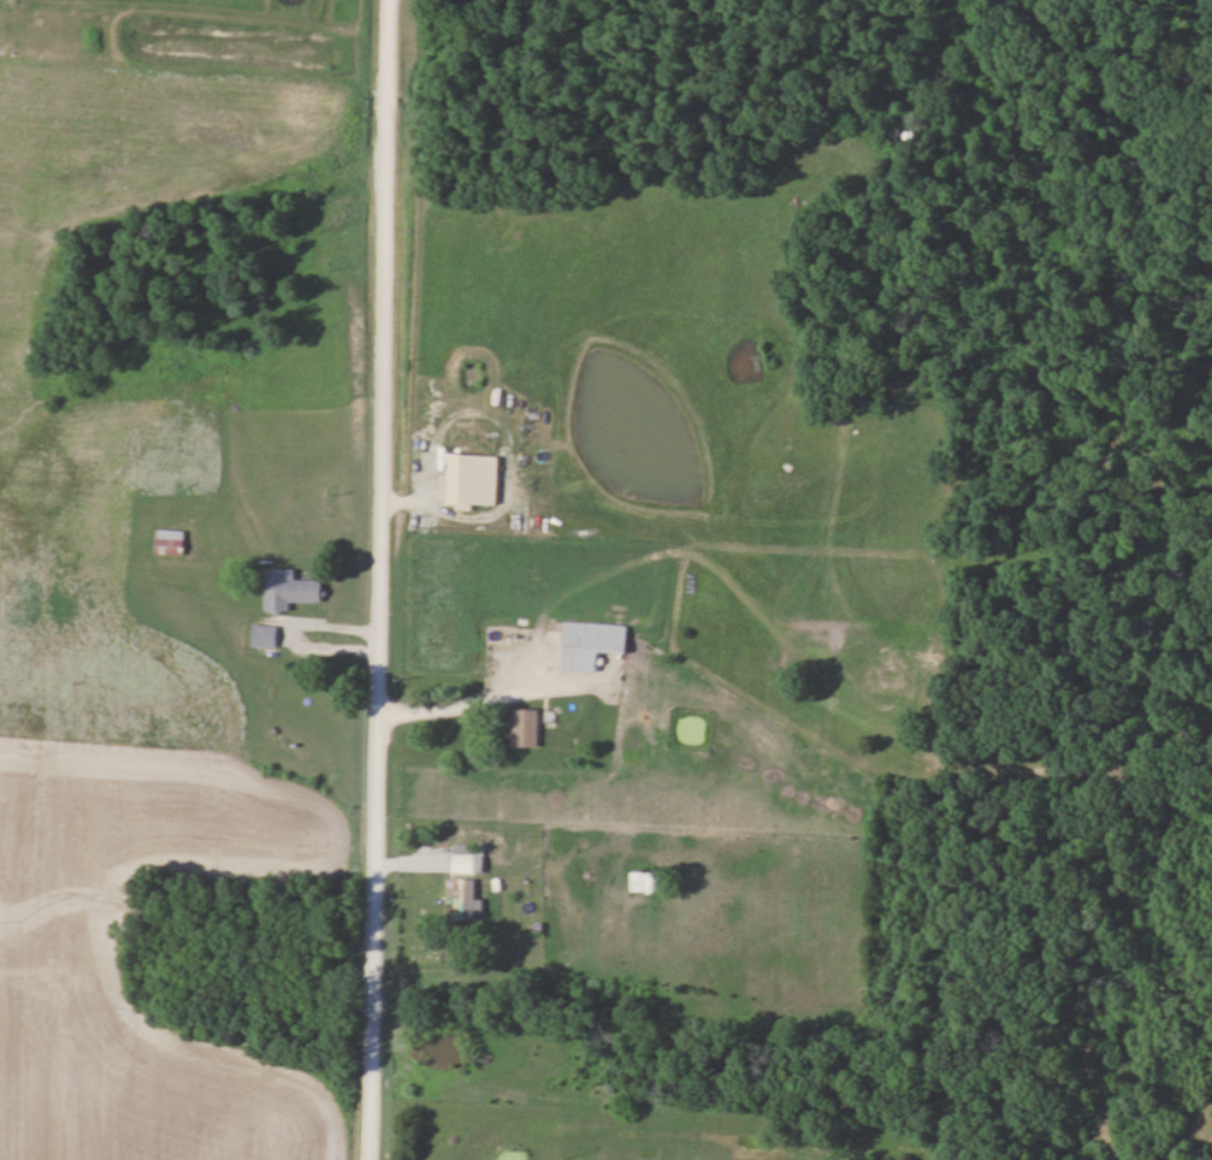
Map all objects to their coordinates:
building: (171, 540)
road: (380, 580)
building: (291, 588)
building: (266, 634)
building: (592, 643)
road: (491, 699)
building: (527, 727)
building: (469, 857)
building: (650, 881)
building: (467, 898)

